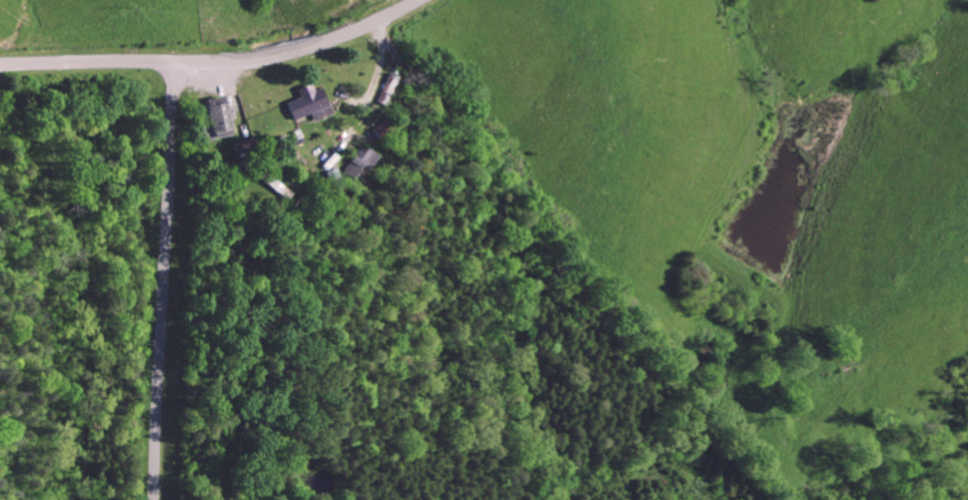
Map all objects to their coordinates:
road: (210, 59)
building: (304, 104)
building: (214, 118)
building: (357, 160)
road: (158, 279)

